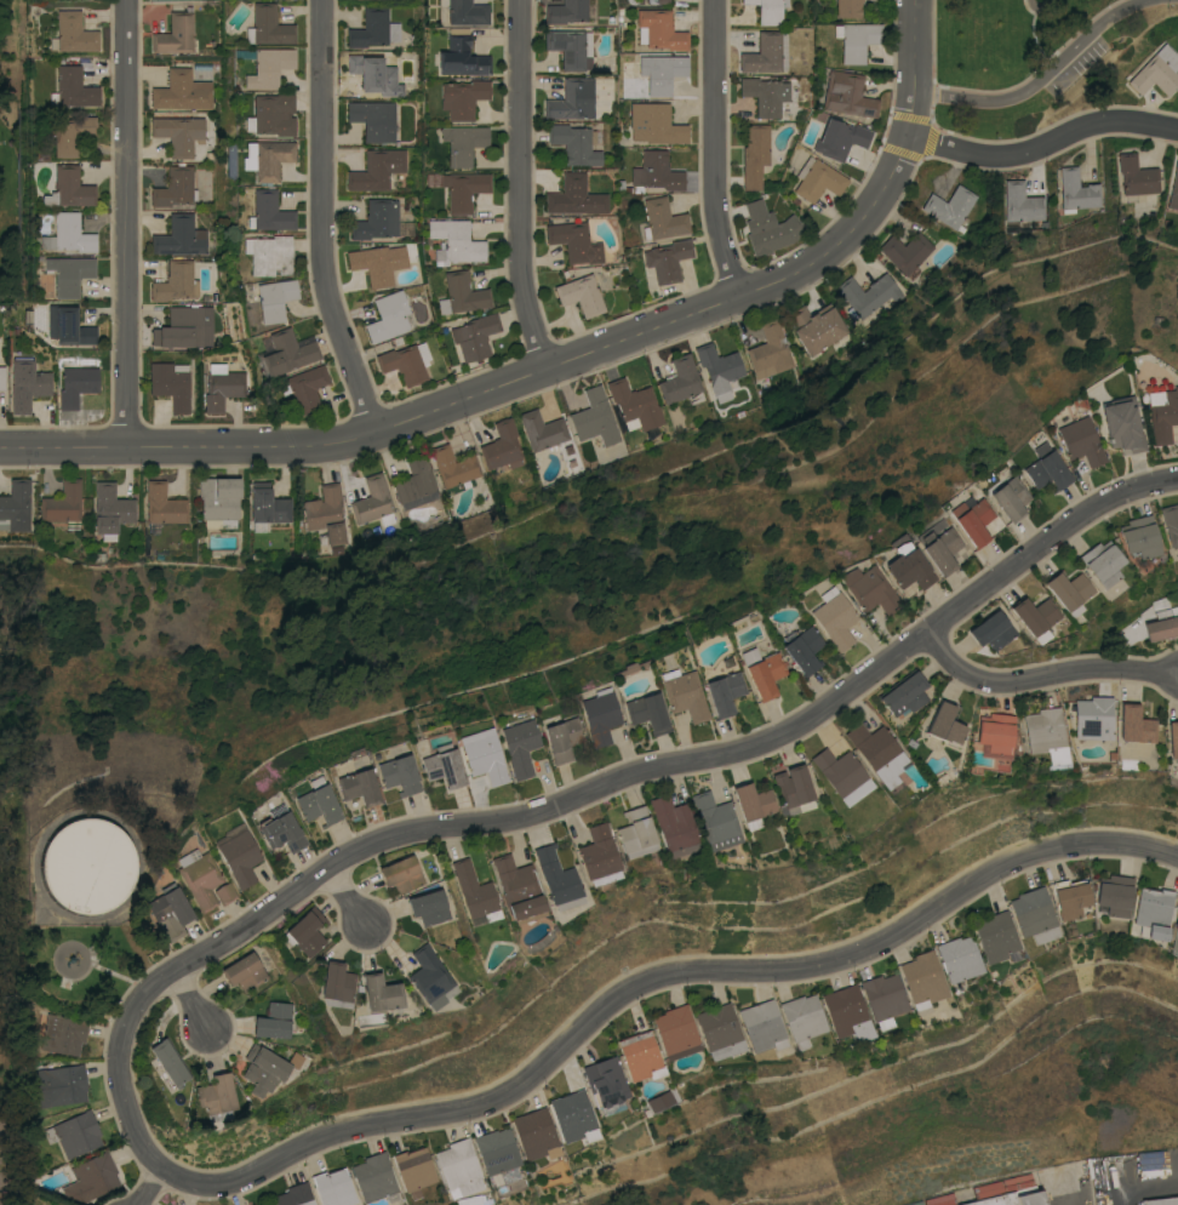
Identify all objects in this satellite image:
building: (657, 1)
building: (847, 7)
building: (768, 10)
building: (463, 11)
building: (566, 11)
building: (268, 25)
building: (373, 28)
building: (658, 29)
building: (74, 32)
building: (175, 33)
building: (856, 39)
building: (570, 46)
building: (766, 52)
building: (461, 55)
building: (268, 67)
road: (916, 68)
building: (372, 69)
building: (661, 72)
building: (1155, 72)
road: (1041, 79)
building: (73, 87)
building: (182, 91)
building: (765, 95)
building: (847, 95)
building: (462, 97)
building: (572, 99)
building: (271, 114)
building: (373, 119)
building: (654, 122)
building: (69, 132)
building: (178, 133)
building: (839, 138)
building: (463, 142)
building: (574, 143)
road: (710, 143)
road: (1045, 144)
building: (754, 154)
building: (267, 158)
building: (377, 169)
building: (656, 171)
building: (1136, 175)
building: (817, 178)
road: (515, 181)
building: (175, 187)
building: (1173, 187)
building: (68, 188)
building: (463, 189)
building: (1076, 189)
building: (567, 194)
park: (8, 201)
building: (1020, 202)
building: (949, 207)
building: (269, 211)
building: (662, 218)
road: (324, 219)
building: (376, 219)
road: (128, 223)
building: (768, 228)
building: (68, 233)
building: (179, 235)
building: (570, 239)
building: (454, 240)
building: (905, 251)
building: (268, 253)
building: (667, 259)
building: (378, 262)
building: (68, 273)
building: (176, 281)
building: (461, 293)
building: (581, 293)
building: (868, 293)
building: (274, 297)
building: (388, 315)
building: (72, 326)
building: (814, 326)
building: (182, 327)
building: (474, 335)
building: (770, 350)
building: (286, 352)
building: (406, 361)
building: (719, 369)
building: (2, 377)
building: (680, 379)
road: (488, 381)
building: (27, 383)
building: (171, 383)
building: (76, 384)
building: (222, 386)
building: (304, 387)
building: (634, 404)
building: (1162, 413)
building: (594, 417)
building: (1121, 424)
building: (542, 429)
building: (1080, 440)
building: (502, 445)
building: (453, 466)
building: (1045, 467)
building: (414, 482)
building: (1006, 495)
building: (219, 501)
building: (373, 501)
building: (62, 502)
building: (268, 504)
building: (16, 506)
building: (161, 506)
building: (110, 509)
building: (325, 514)
building: (971, 519)
building: (1170, 524)
building: (1138, 536)
building: (938, 548)
building: (1100, 562)
building: (907, 566)
building: (868, 589)
building: (1067, 590)
building: (1033, 616)
building: (834, 617)
building: (1161, 626)
building: (991, 630)
building: (804, 650)
building: (762, 672)
road: (1043, 675)
building: (724, 692)
building: (684, 693)
building: (904, 693)
building: (646, 712)
building: (601, 716)
building: (1093, 719)
building: (944, 724)
building: (1136, 725)
building: (995, 731)
building: (1047, 735)
building: (562, 739)
building: (1173, 739)
building: (520, 747)
building: (880, 753)
building: (484, 755)
road: (692, 758)
park: (13, 759)
building: (442, 765)
building: (841, 771)
building: (400, 775)
building: (360, 787)
building: (795, 790)
building: (319, 803)
building: (755, 805)
building: (717, 821)
building: (675, 826)
building: (282, 833)
building: (637, 833)
building: (600, 856)
building: (241, 858)
building: (88, 866)
storage tank: (88, 866)
building: (404, 874)
building: (200, 878)
building: (559, 879)
building: (520, 890)
building: (476, 892)
building: (227, 893)
building: (1117, 896)
road: (349, 898)
building: (1074, 900)
building: (430, 907)
building: (1156, 912)
building: (171, 913)
building: (1036, 915)
building: (307, 932)
building: (999, 937)
building: (1176, 940)
building: (962, 959)
building: (246, 972)
building: (431, 976)
road: (656, 980)
building: (926, 981)
building: (337, 986)
building: (382, 993)
building: (887, 999)
road: (193, 1000)
building: (850, 1013)
building: (805, 1018)
building: (276, 1021)
building: (765, 1027)
building: (722, 1032)
building: (679, 1033)
building: (64, 1034)
building: (641, 1055)
building: (171, 1062)
road: (131, 1067)
building: (268, 1069)
building: (608, 1083)
building: (62, 1085)
building: (218, 1097)
building: (661, 1102)
building: (576, 1117)
building: (75, 1133)
building: (538, 1135)
building: (499, 1152)
building: (462, 1167)
building: (416, 1170)
building: (376, 1177)
building: (93, 1178)
road: (153, 1186)
building: (336, 1188)
road: (1065, 1189)
building: (297, 1195)
building: (1016, 1198)
building: (473, 1200)
building: (1162, 1201)
building: (264, 1203)
building: (269, 1204)

